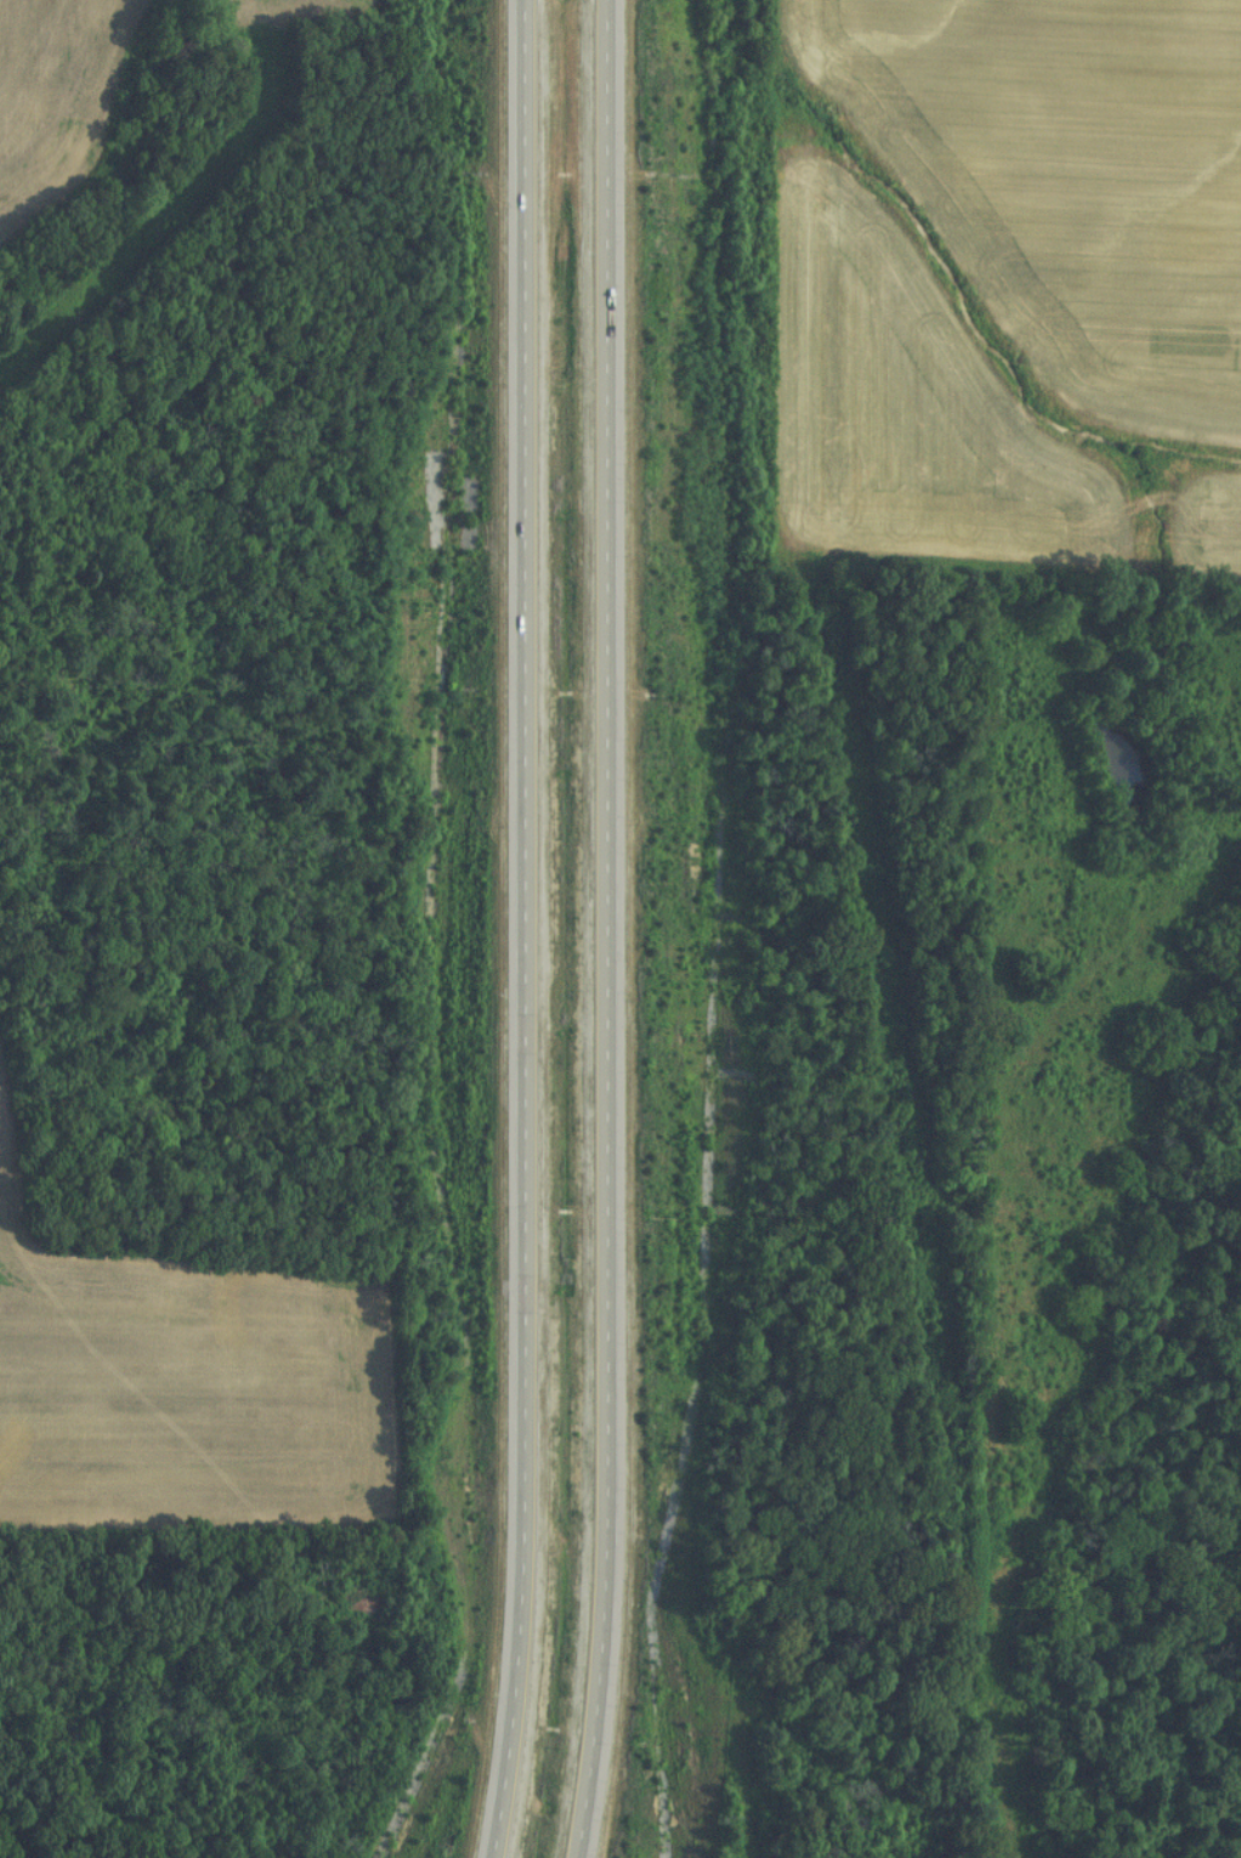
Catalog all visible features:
road: (518, 929)
road: (601, 929)

